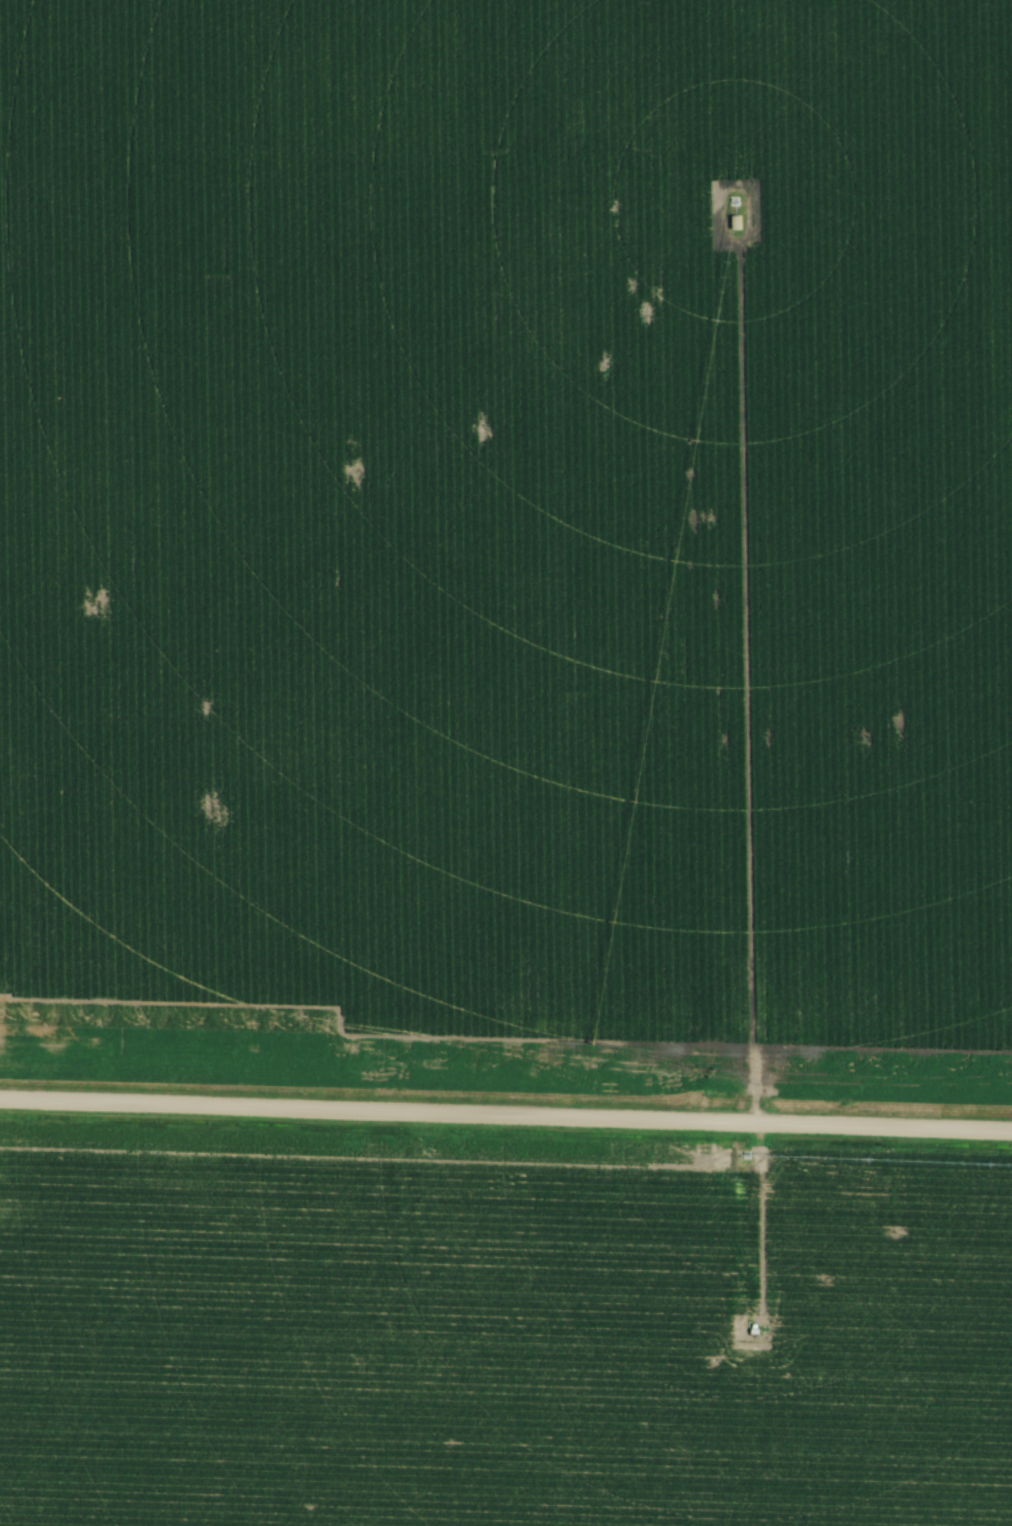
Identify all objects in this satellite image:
road: (505, 1123)

